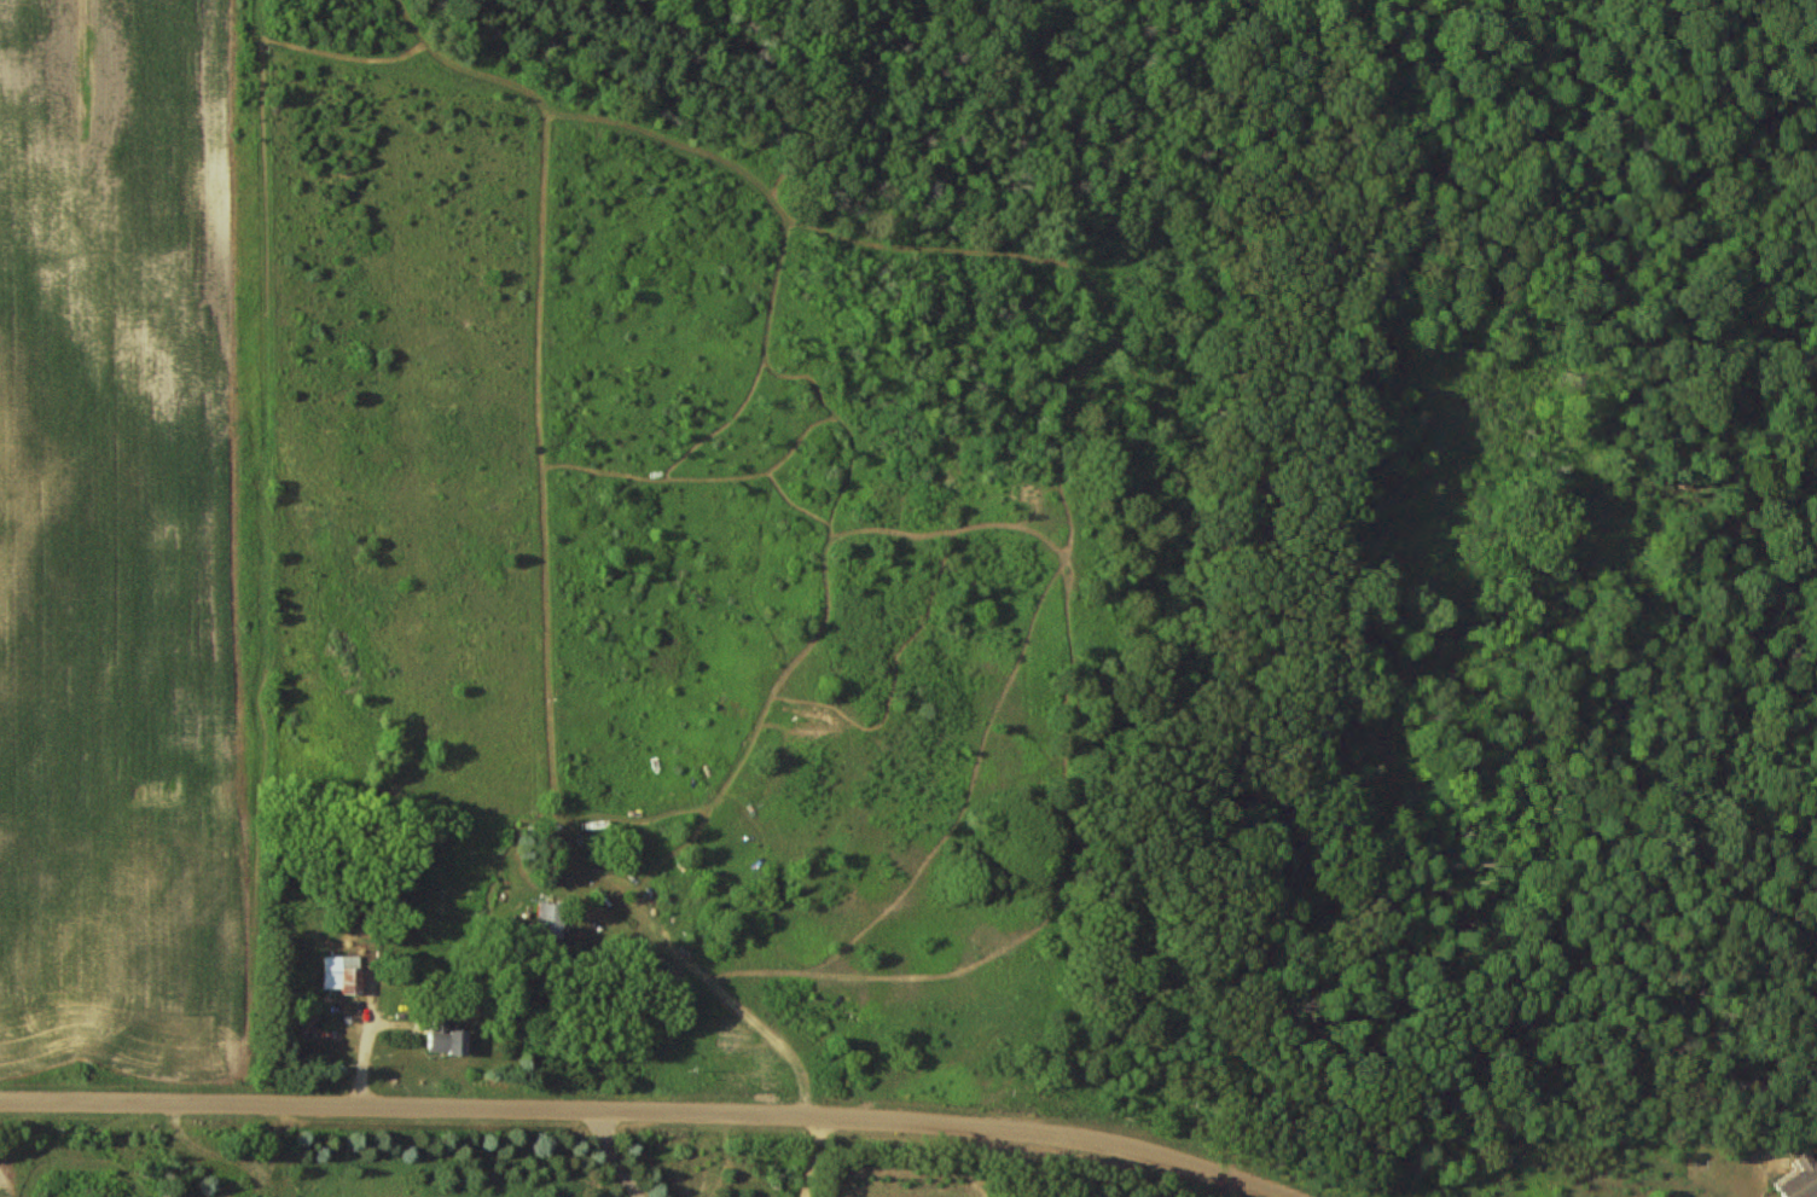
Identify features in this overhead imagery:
building: (550, 920)
road: (742, 1009)
building: (446, 1041)
road: (643, 1122)
road: (610, 1161)
building: (1801, 1180)

